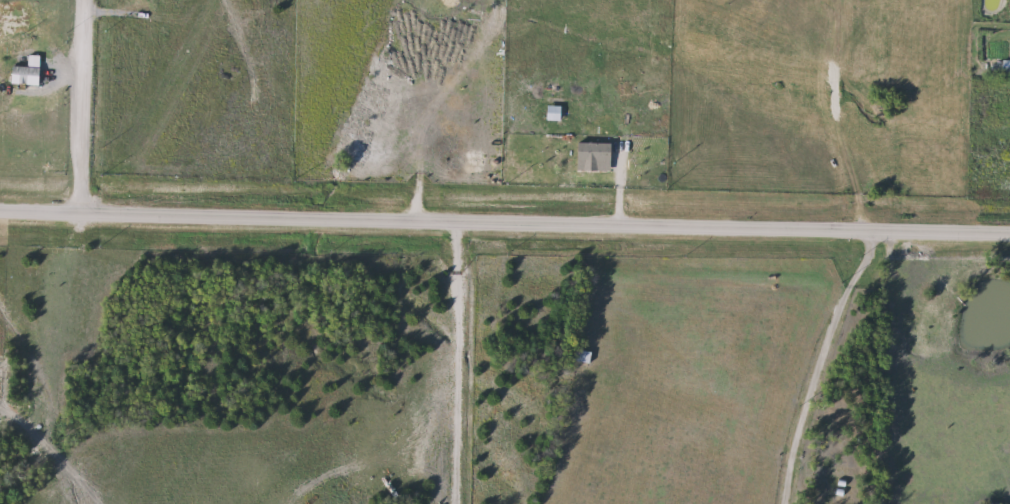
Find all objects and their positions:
road: (83, 104)
road: (504, 232)
road: (819, 366)
road: (458, 367)

